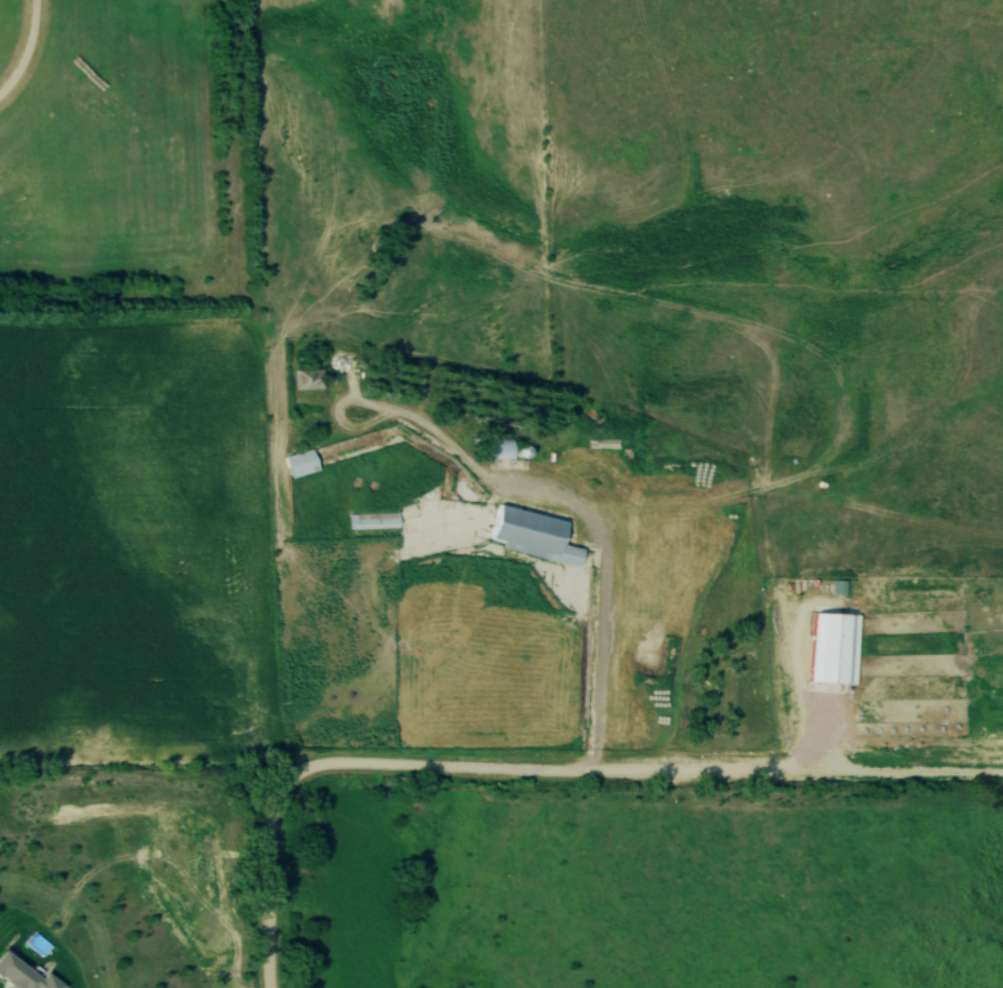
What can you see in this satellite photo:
road: (26, 52)
building: (308, 380)
road: (362, 407)
building: (301, 463)
building: (373, 521)
building: (537, 535)
road: (594, 538)
road: (541, 776)
building: (20, 972)

